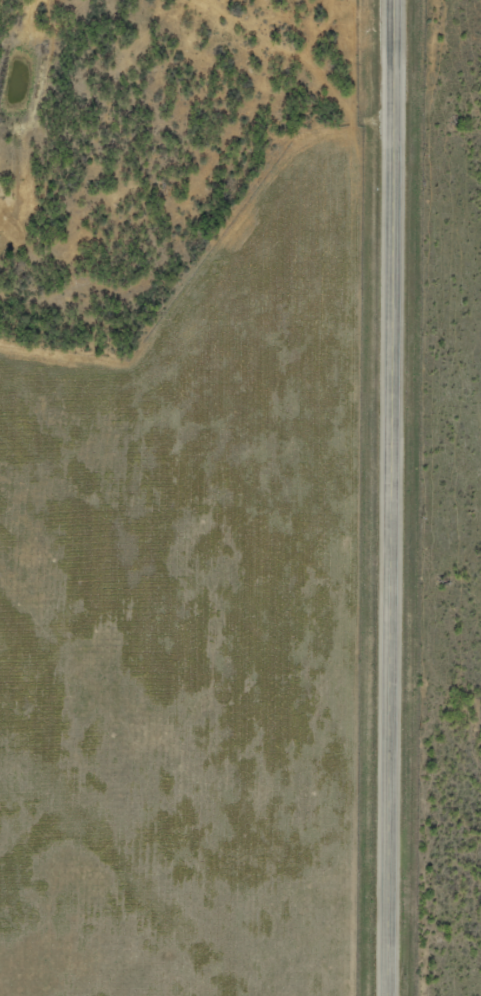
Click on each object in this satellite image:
road: (387, 498)

